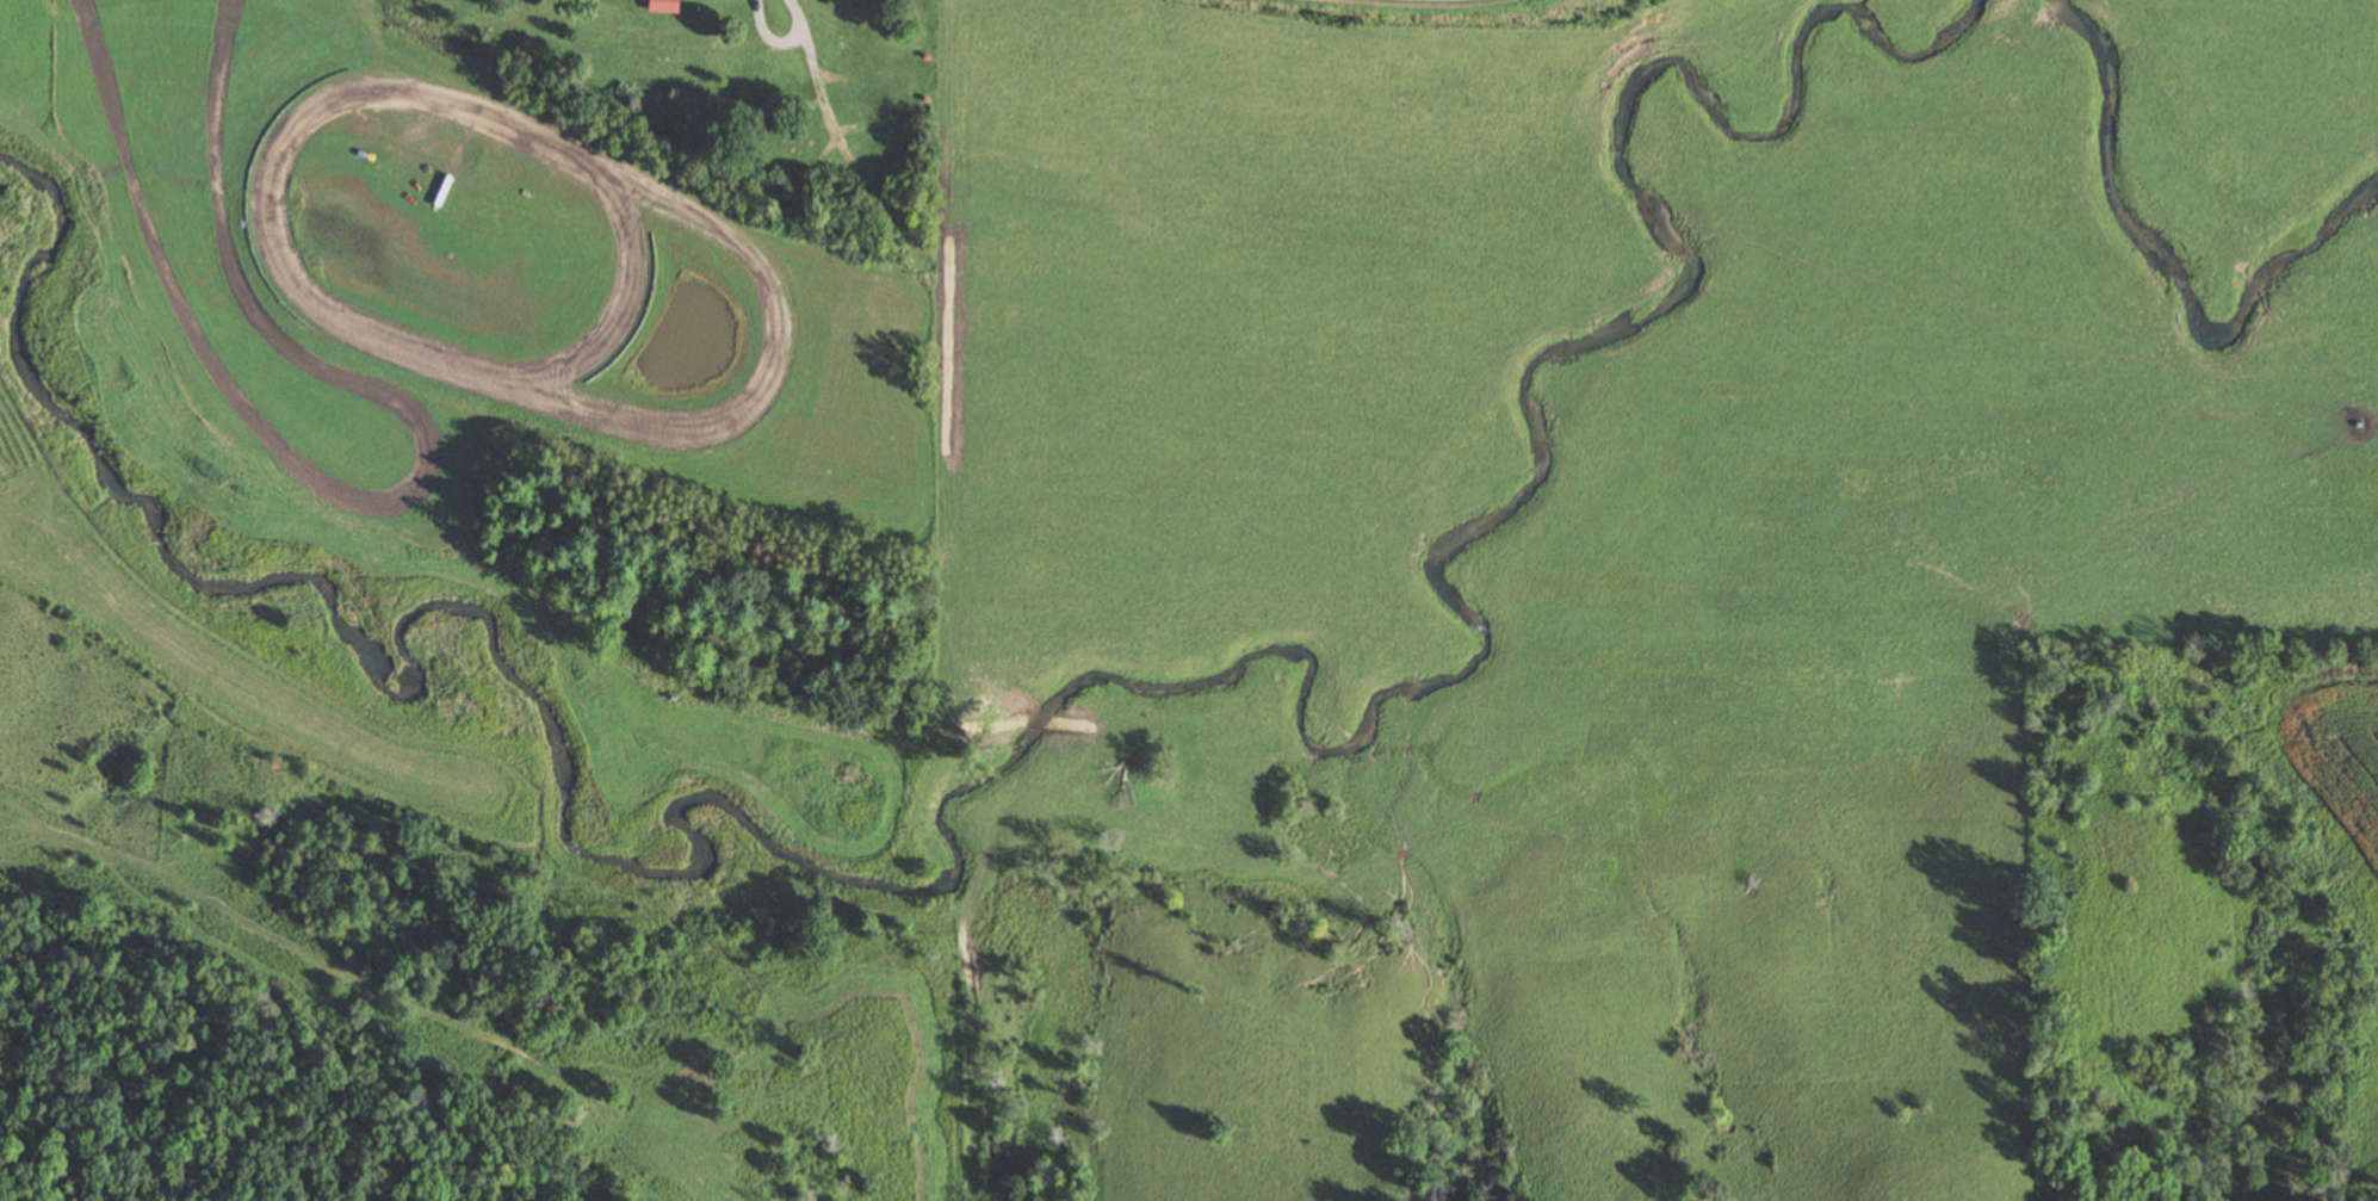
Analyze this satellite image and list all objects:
building: (667, 5)
park: (739, 95)

